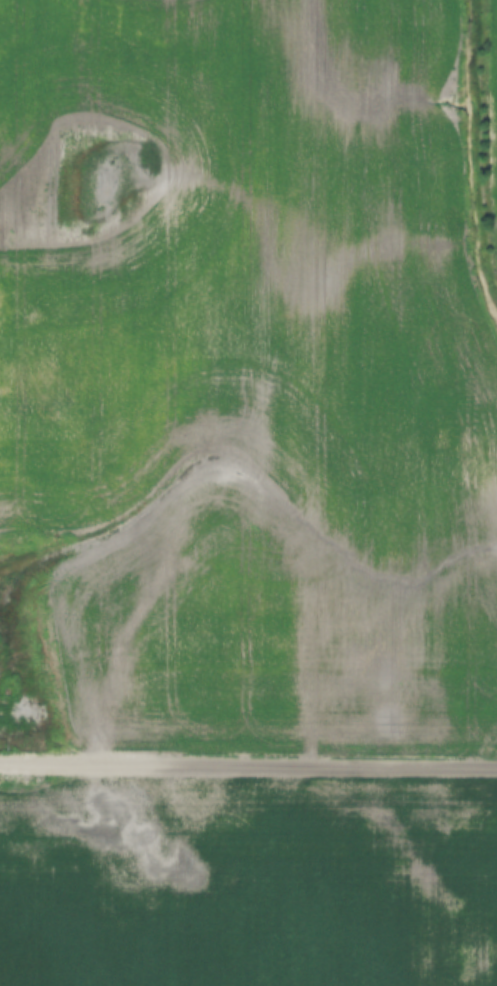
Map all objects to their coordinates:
road: (248, 766)

